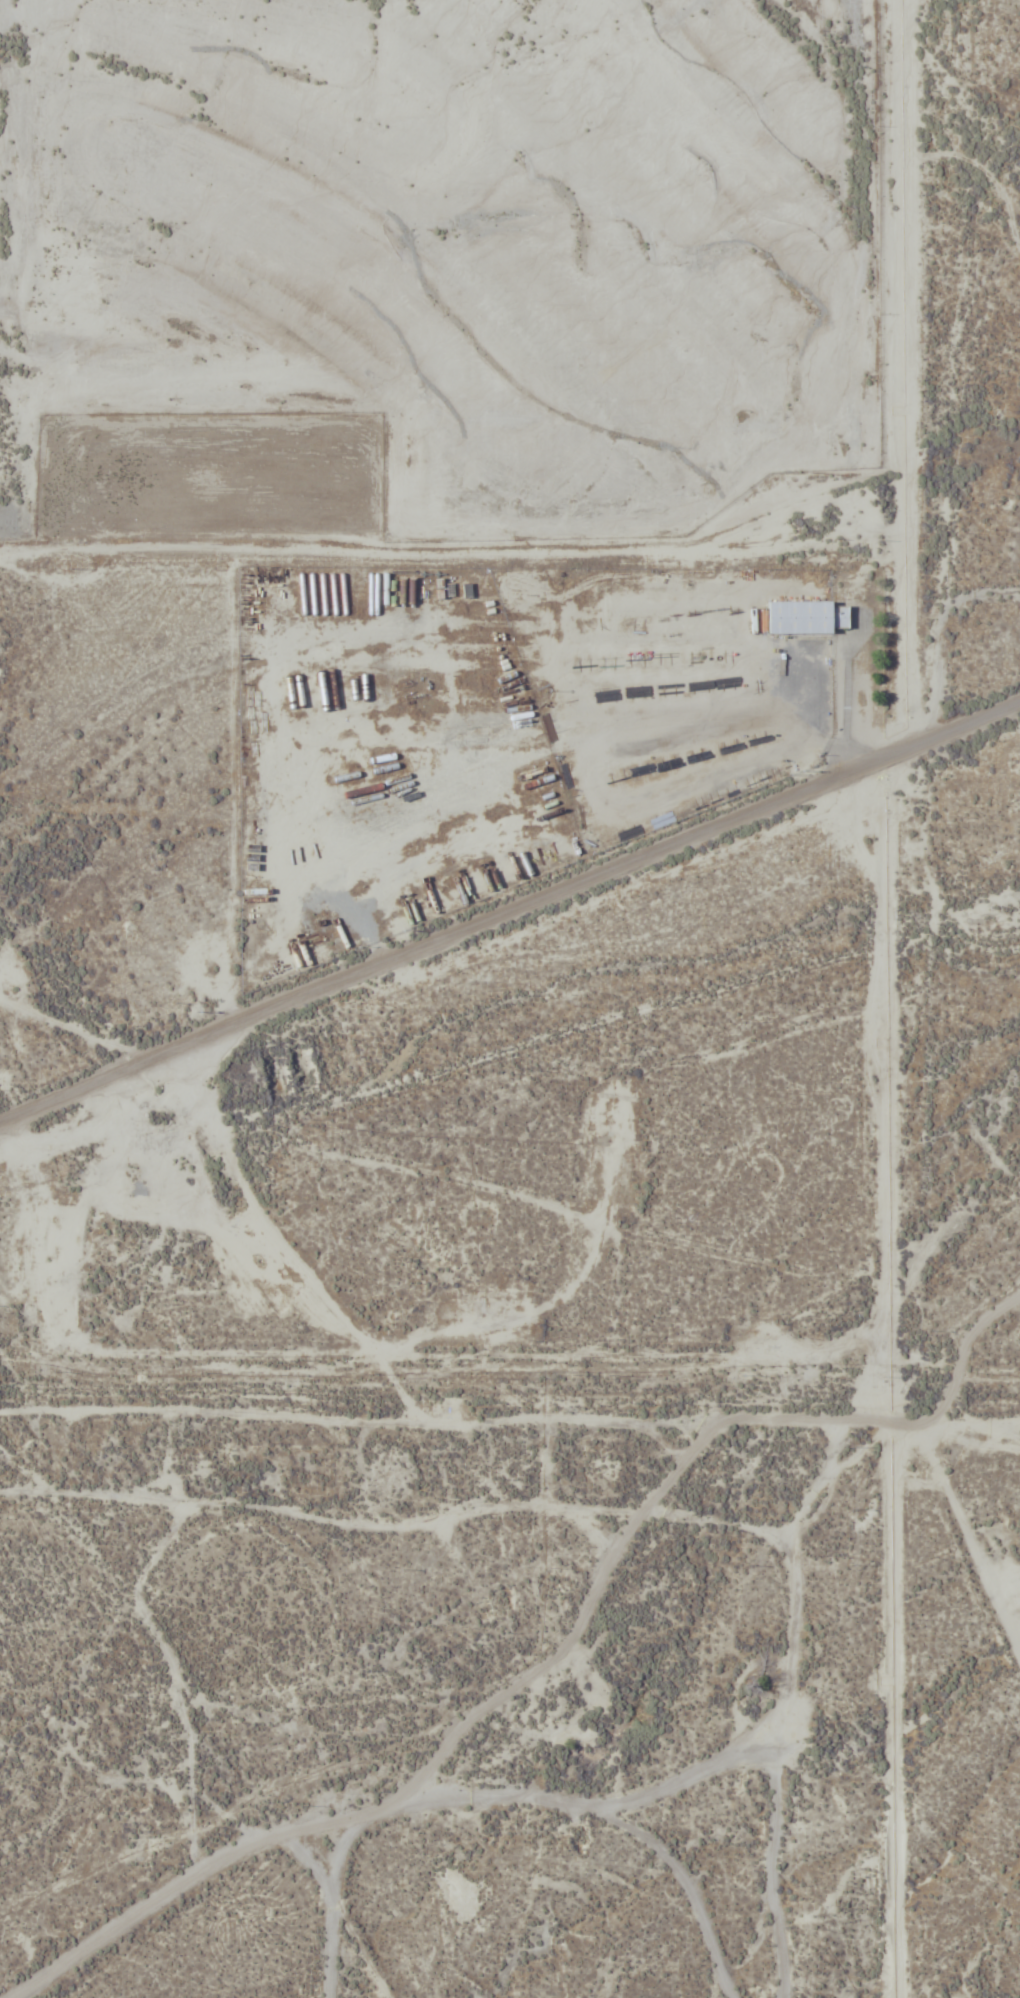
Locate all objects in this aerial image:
road: (926, 122)
road: (906, 375)
road: (453, 549)
building: (807, 619)
building: (520, 716)
road: (510, 914)
building: (135, 1173)
building: (137, 1191)
road: (510, 1416)
road: (785, 1707)
road: (387, 1806)
road: (109, 1931)

